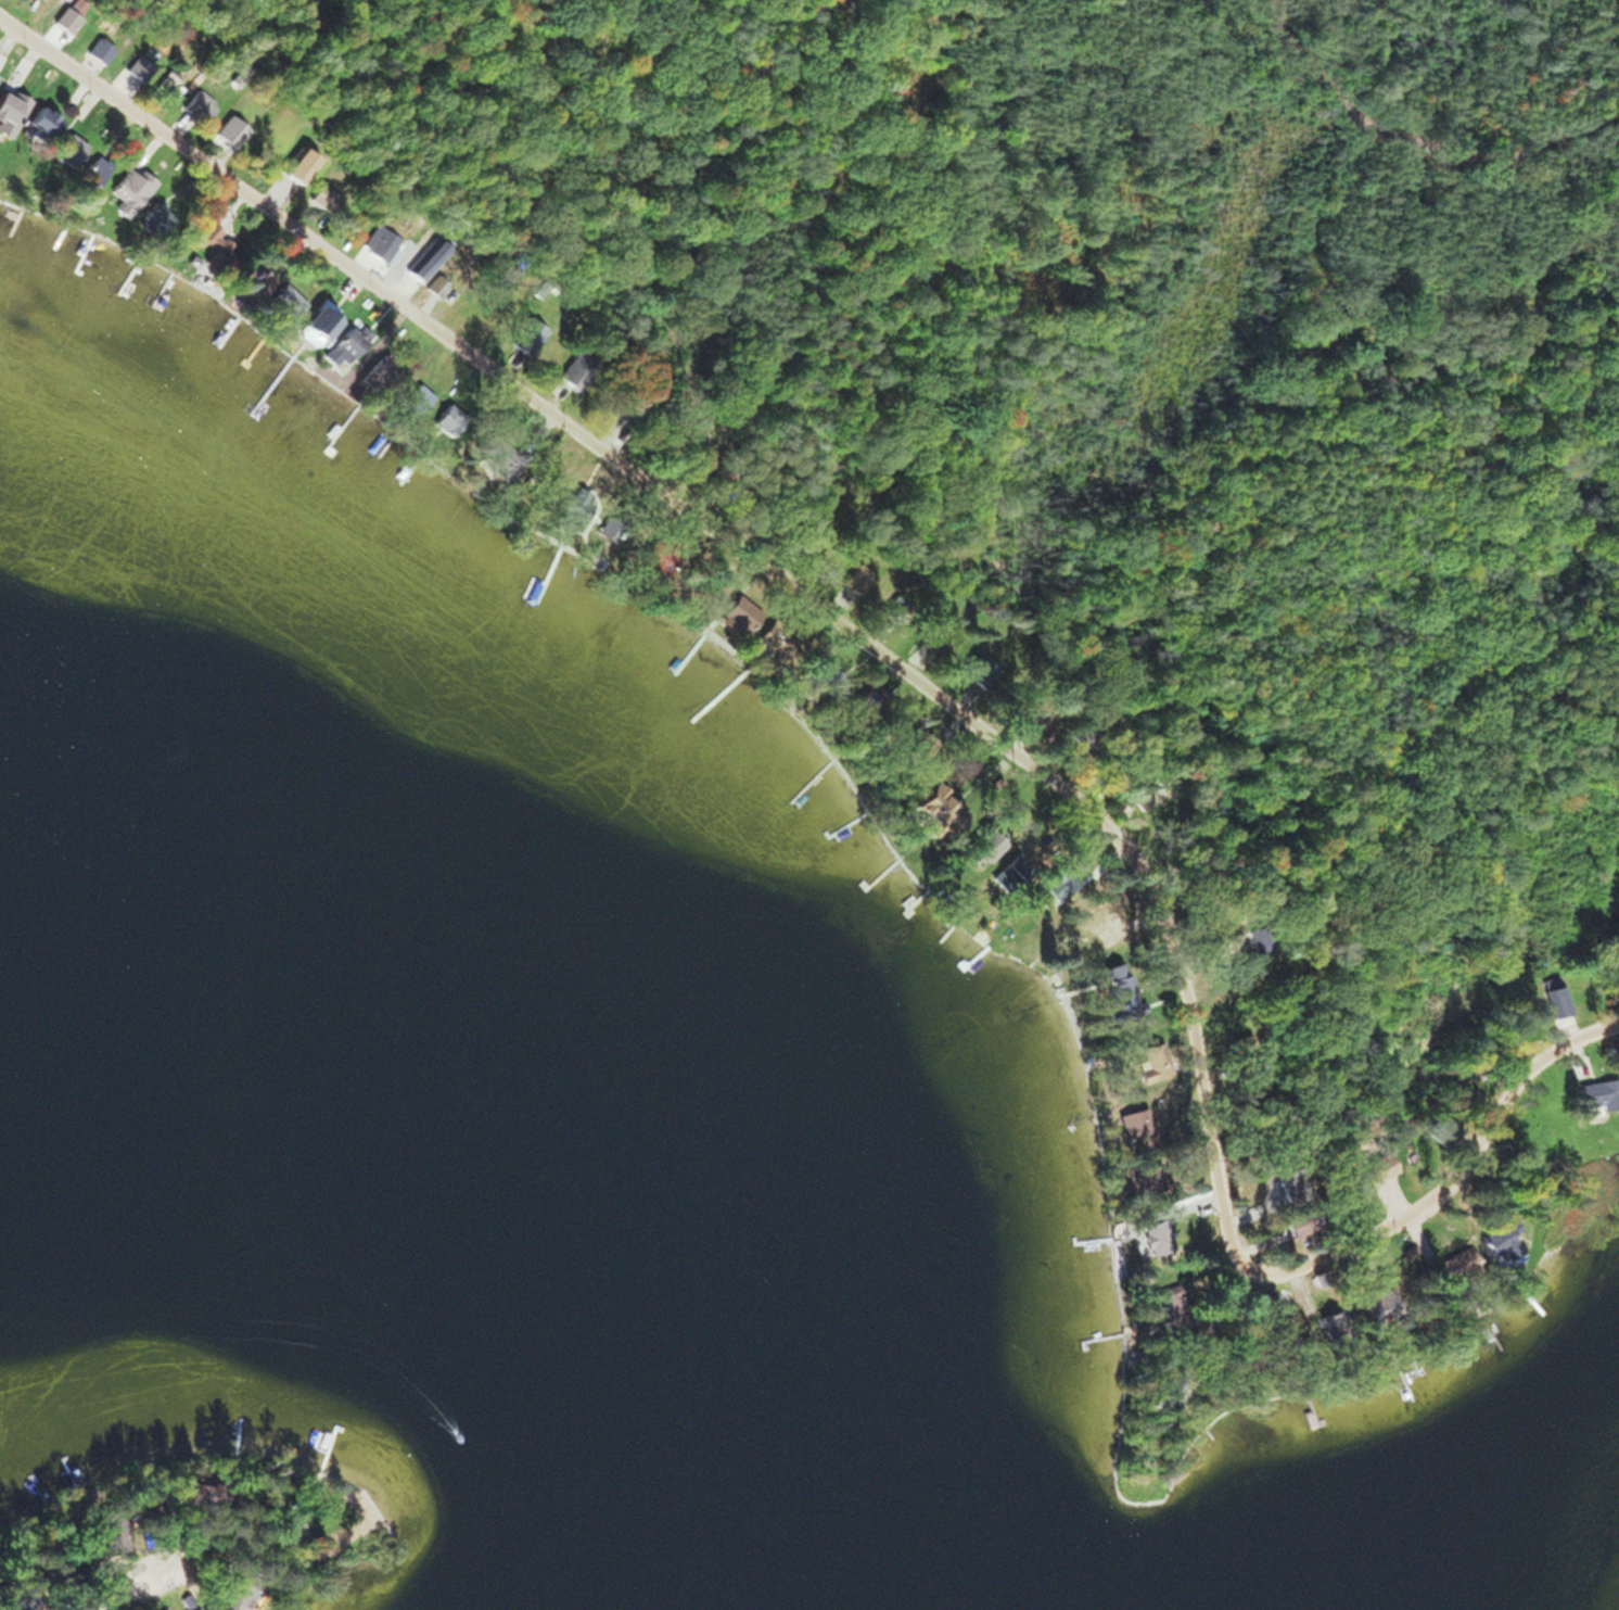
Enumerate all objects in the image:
building: (63, 20)
building: (97, 49)
building: (137, 66)
building: (162, 83)
building: (194, 105)
building: (8, 109)
building: (40, 121)
building: (67, 147)
building: (91, 172)
building: (129, 189)
building: (322, 198)
building: (378, 242)
building: (216, 248)
building: (418, 268)
building: (252, 280)
building: (284, 301)
building: (317, 319)
building: (522, 335)
building: (343, 346)
building: (377, 376)
building: (553, 392)
building: (853, 579)
building: (770, 641)
building: (932, 641)
building: (979, 671)
road: (935, 683)
building: (933, 807)
building: (981, 844)
building: (1009, 870)
building: (1114, 994)
building: (1555, 996)
building: (1149, 1062)
building: (1599, 1093)
building: (1130, 1123)
building: (1442, 1129)
building: (1381, 1166)
building: (1142, 1180)
building: (1353, 1184)
building: (1152, 1235)
building: (1501, 1239)
building: (1453, 1264)
building: (1376, 1305)
building: (1276, 1313)
building: (1331, 1327)
building: (106, 1542)
road: (115, 1586)
building: (233, 1597)

